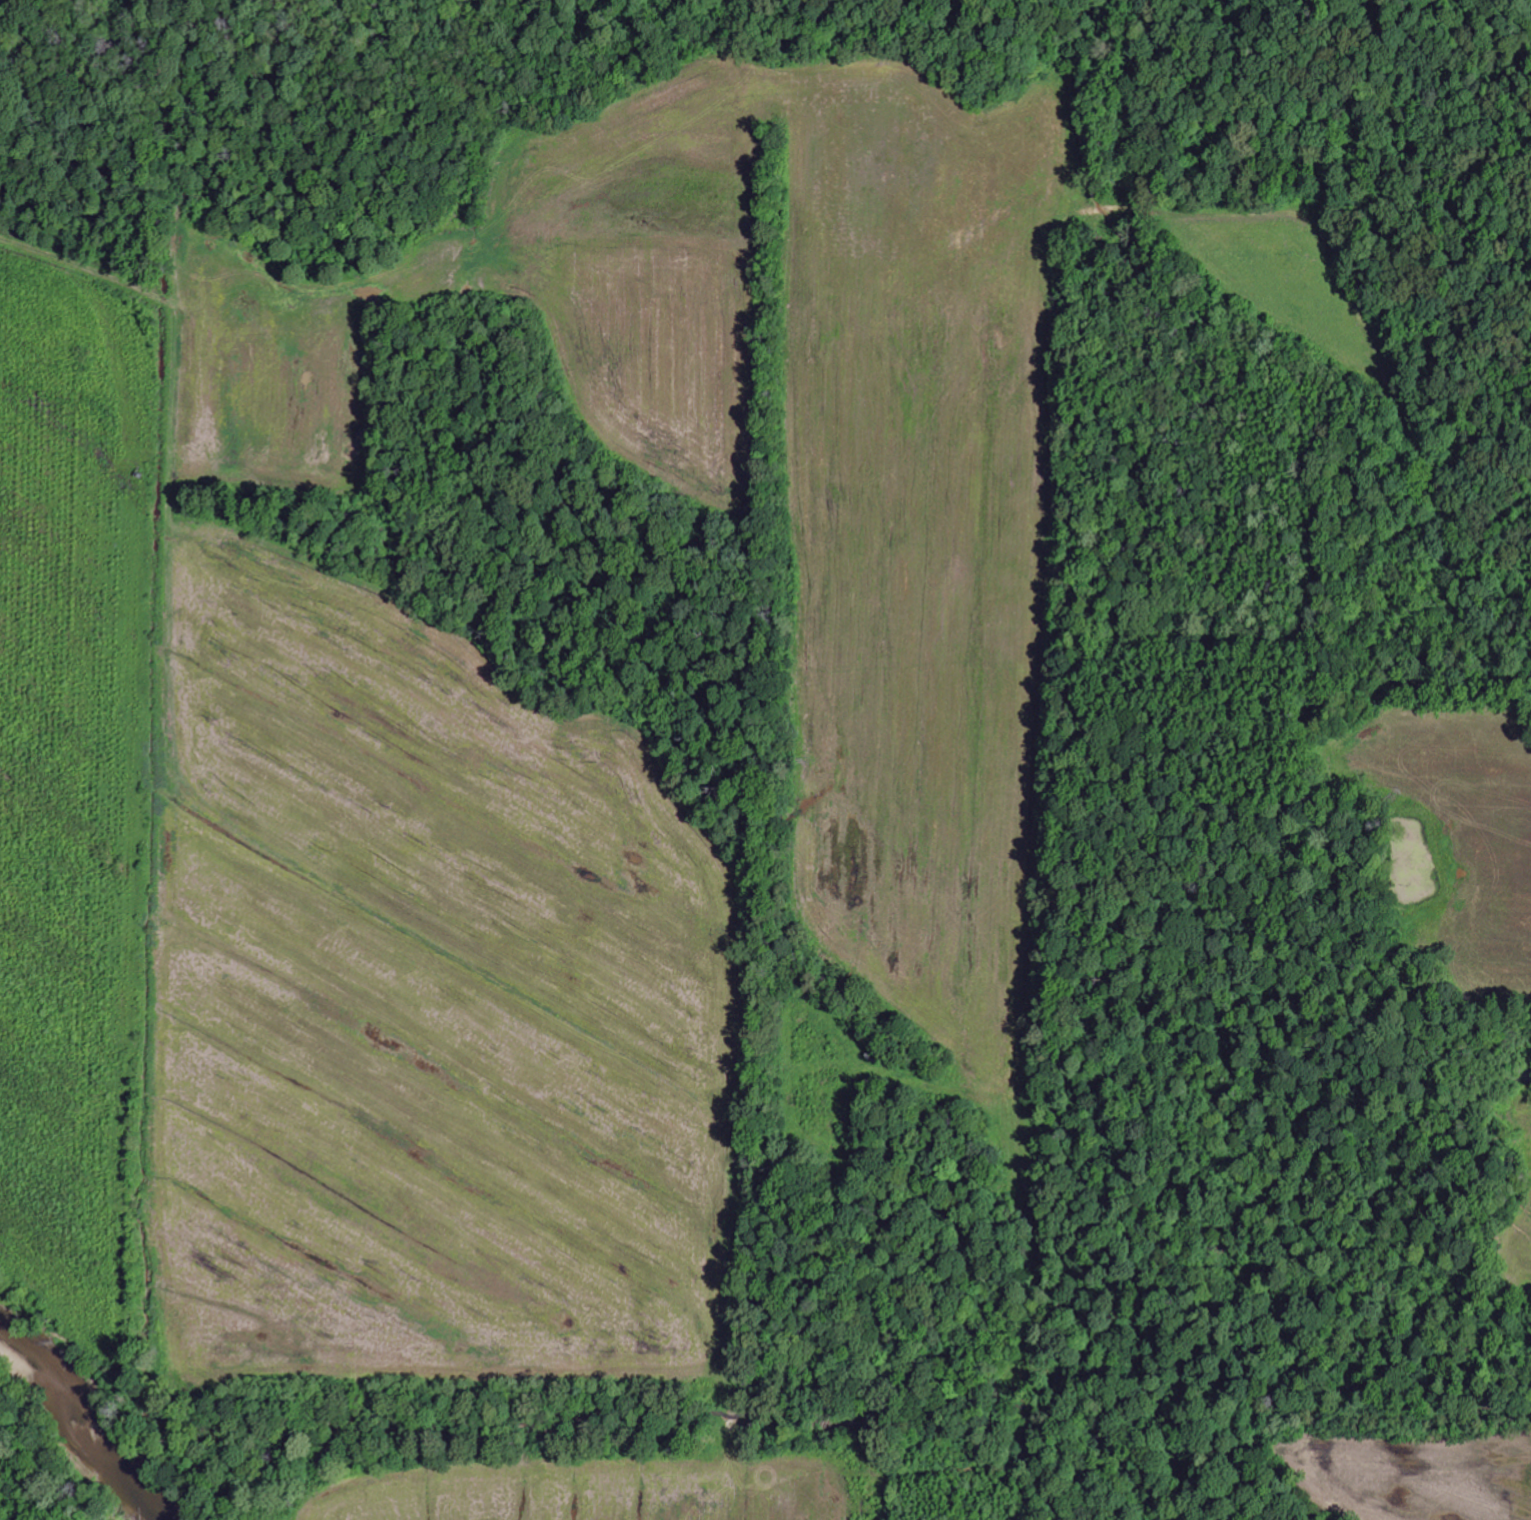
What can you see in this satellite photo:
river: (62, 1432)

